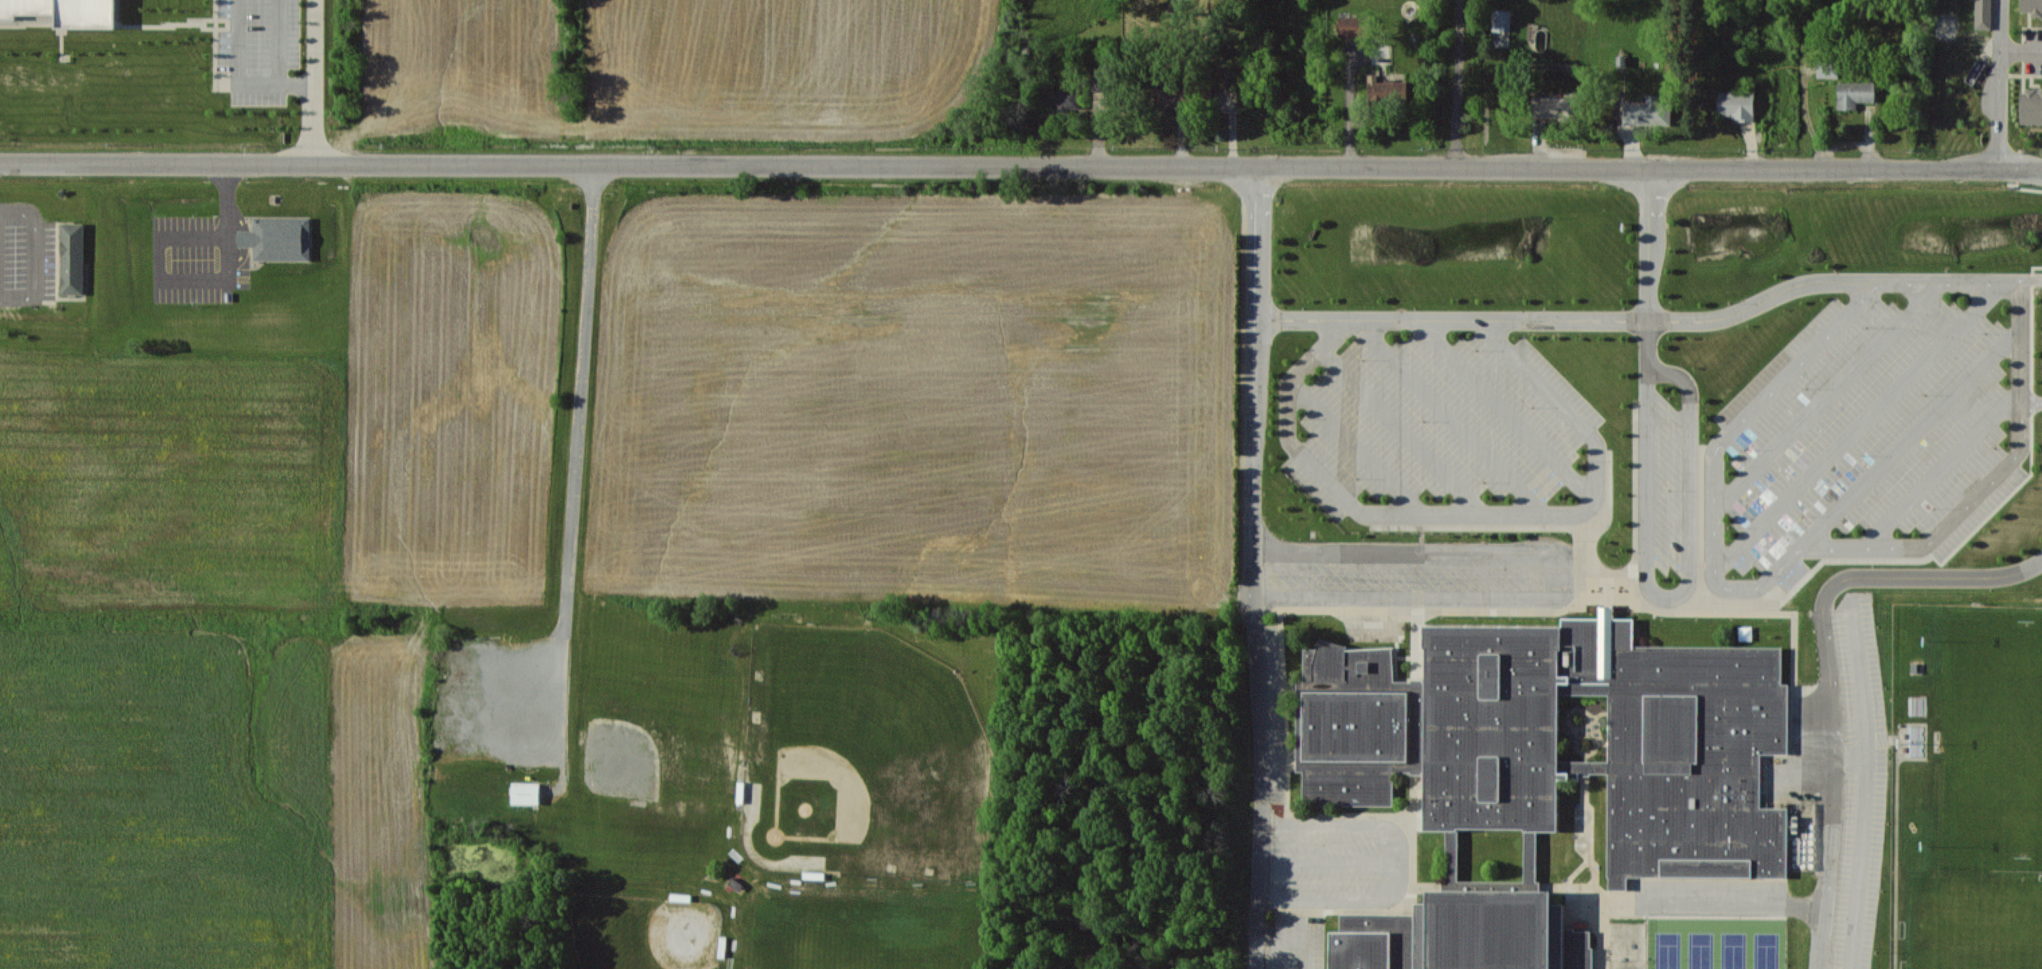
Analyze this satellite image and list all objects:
building: (2032, 7)
building: (65, 11)
building: (1983, 14)
building: (1502, 20)
road: (1999, 25)
building: (1351, 26)
road: (2020, 51)
building: (1828, 71)
road: (315, 81)
road: (261, 82)
road: (298, 82)
road: (1457, 83)
building: (1386, 90)
building: (1166, 92)
building: (1855, 94)
building: (1068, 98)
building: (1736, 104)
building: (2031, 106)
building: (1556, 107)
road: (1998, 109)
building: (1648, 111)
road: (1021, 165)
road: (238, 213)
road: (246, 238)
building: (278, 238)
road: (34, 254)
building: (72, 258)
road: (238, 262)
road: (195, 274)
road: (1653, 320)
road: (1829, 395)
road: (2033, 403)
road: (1506, 412)
road: (1449, 419)
road: (1860, 427)
road: (1401, 430)
road: (1356, 445)
road: (575, 460)
road: (1944, 467)
road: (1991, 481)
road: (1473, 515)
road: (1646, 528)
road: (1255, 567)
road: (1568, 575)
road: (1734, 587)
road: (1841, 626)
road: (1828, 670)
park: (1989, 742)
park: (863, 757)
building: (1547, 772)
road: (1867, 782)
building: (526, 792)
road: (1897, 838)
road: (1329, 862)
road: (1396, 865)
road: (1699, 900)
park: (647, 933)
park: (1717, 943)

